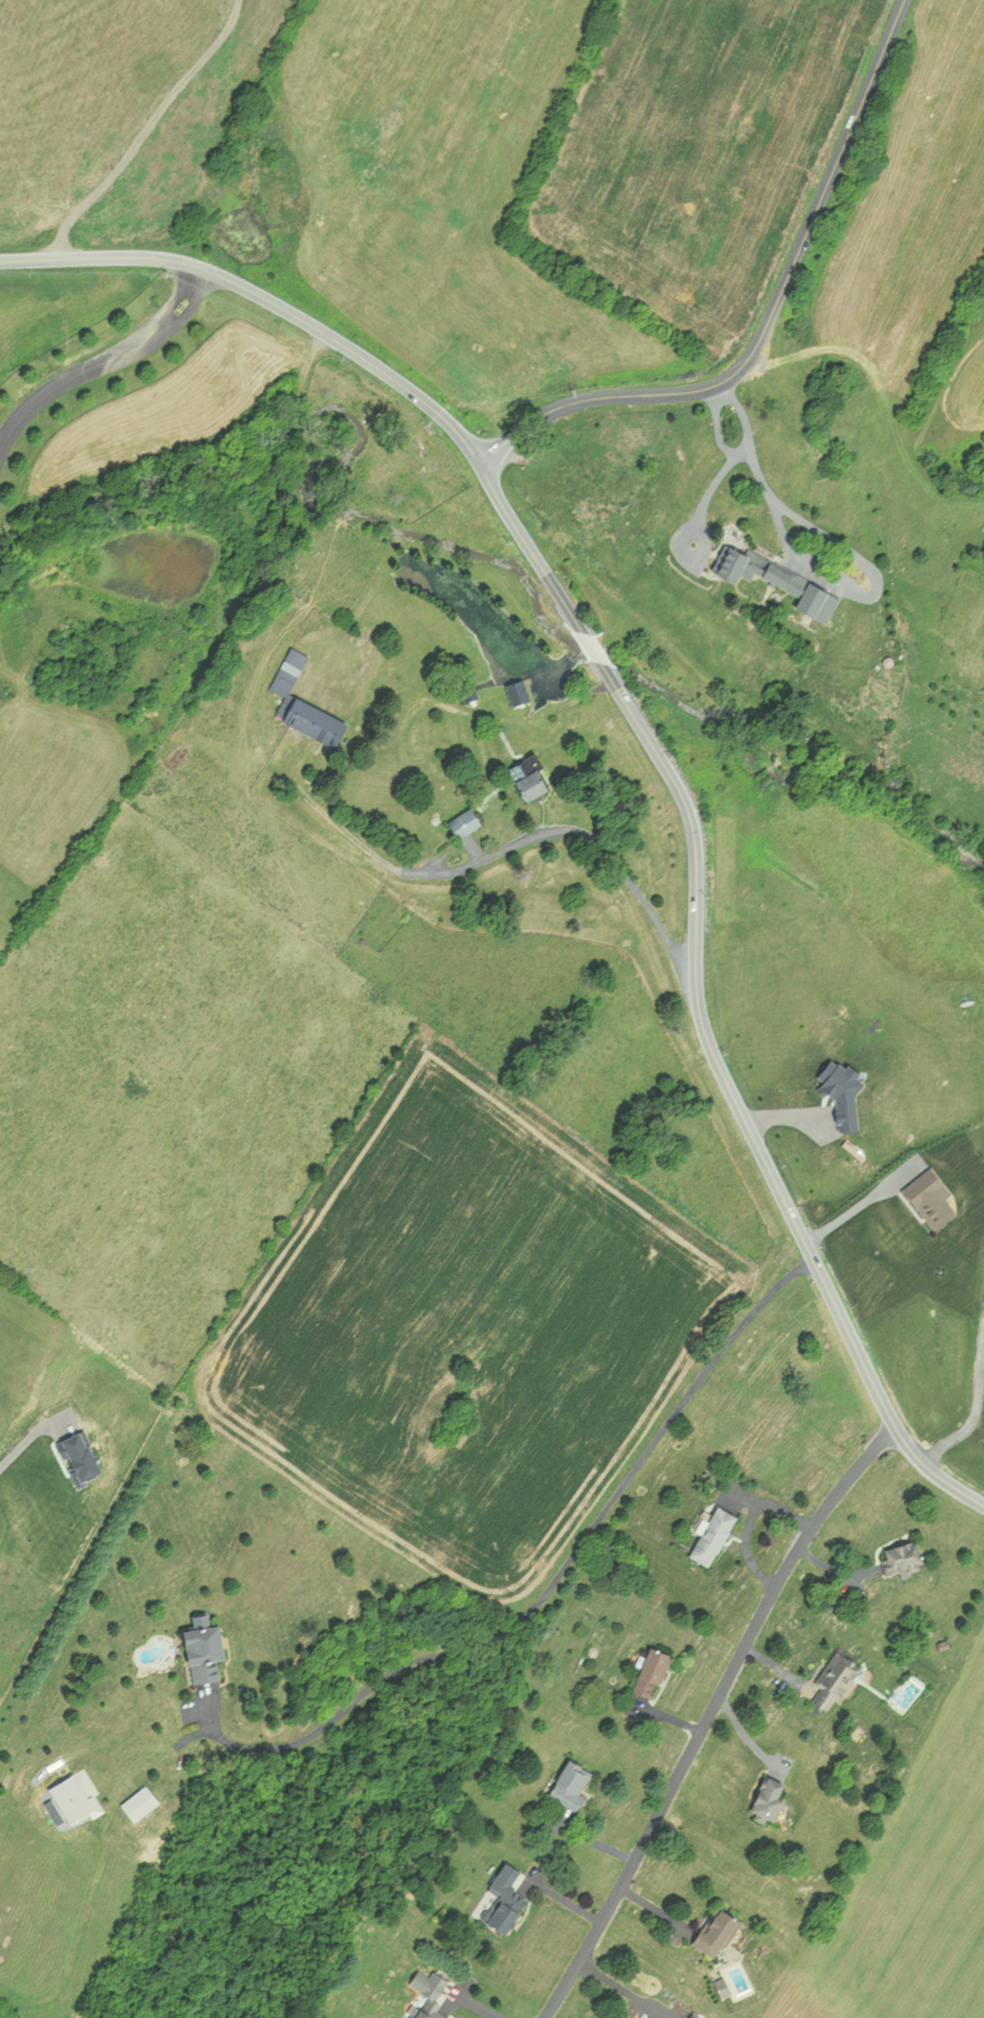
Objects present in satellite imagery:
road: (145, 128)
road: (769, 317)
road: (346, 344)
road: (105, 358)
road: (739, 452)
road: (773, 506)
road: (697, 523)
road: (590, 643)
building: (470, 691)
building: (518, 692)
building: (301, 702)
road: (494, 743)
building: (525, 779)
building: (462, 823)
road: (739, 1105)
road: (940, 1167)
road: (977, 1406)
building: (710, 1534)
building: (902, 1556)
road: (554, 1581)
building: (197, 1649)
building: (650, 1673)
building: (830, 1680)
road: (710, 1714)
building: (568, 1785)
building: (61, 1795)
building: (763, 1797)
building: (713, 1931)
road: (621, 1989)
road: (467, 2001)
building: (422, 2011)

